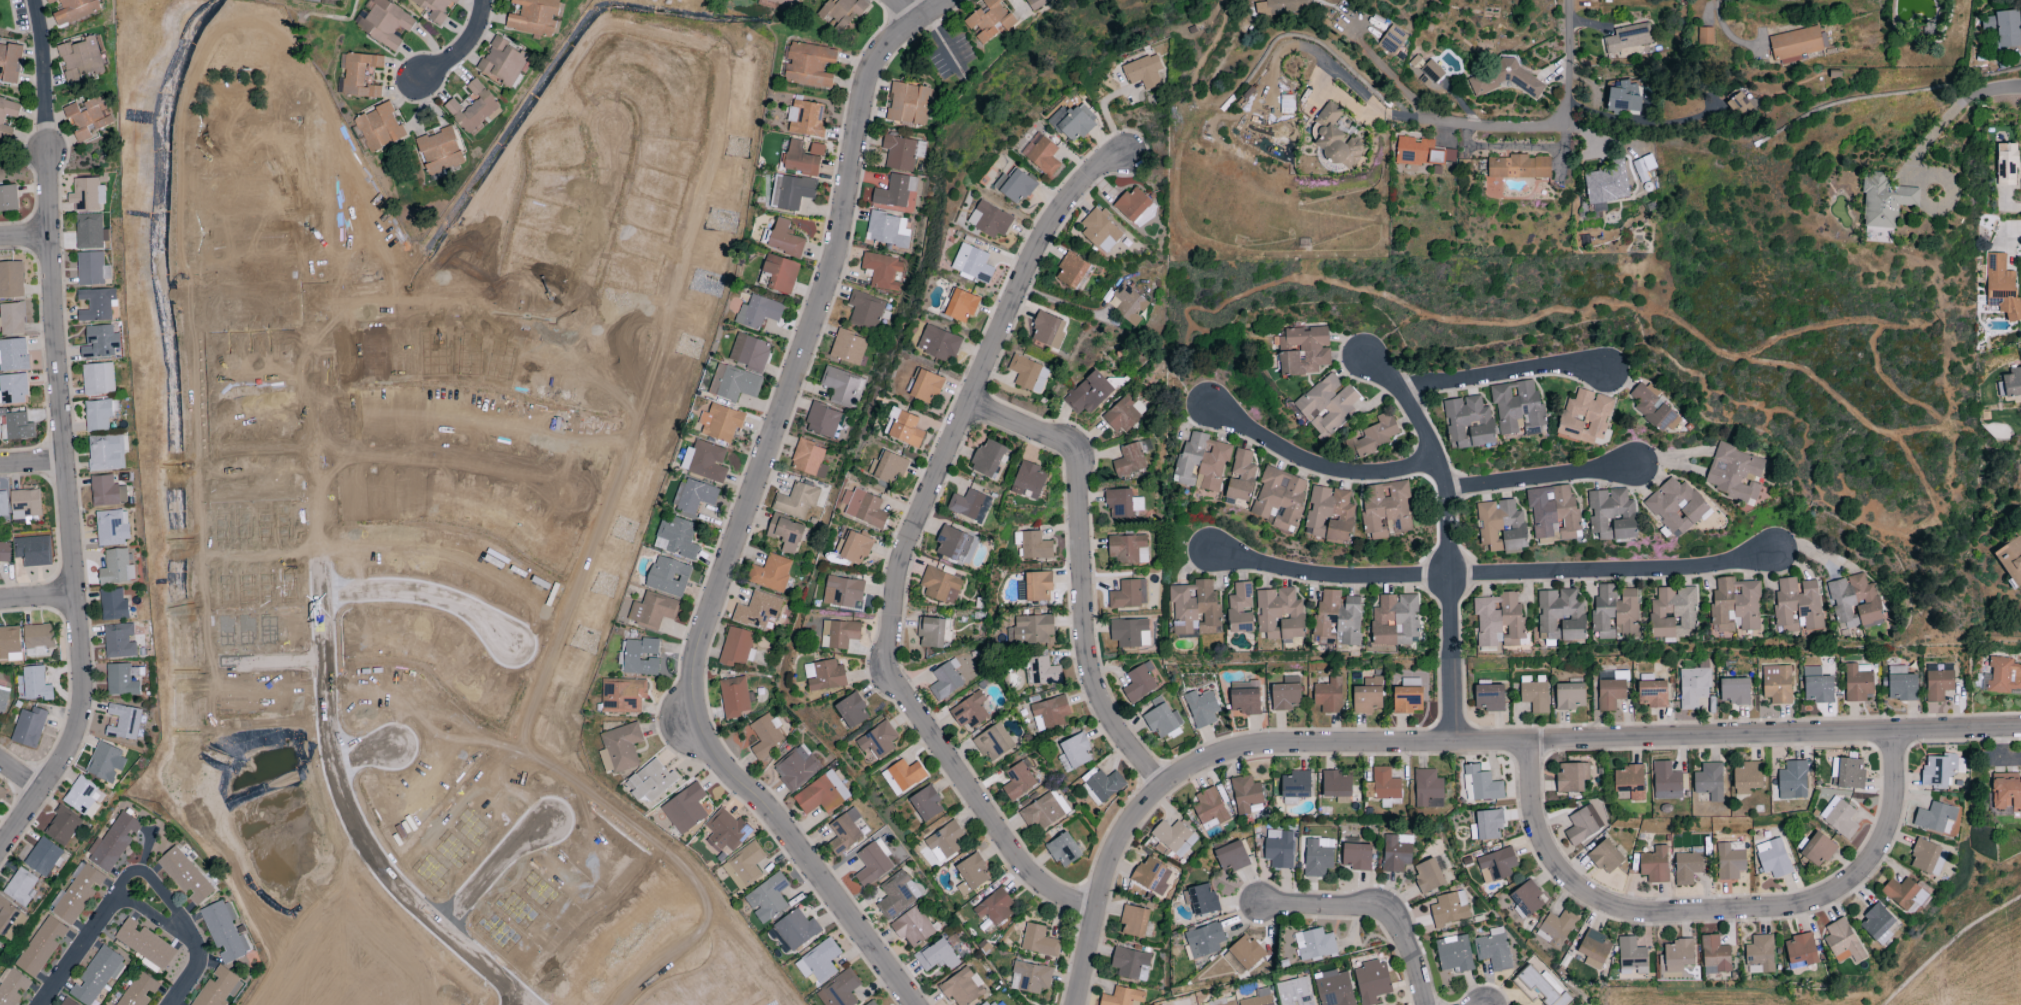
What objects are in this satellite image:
building: (336, 0)
building: (784, 2)
building: (1036, 3)
building: (1282, 7)
building: (434, 8)
building: (75, 10)
road: (910, 11)
building: (842, 13)
building: (534, 17)
building: (990, 20)
building: (383, 22)
road: (1723, 29)
building: (2003, 29)
building: (1705, 36)
building: (1627, 39)
building: (1391, 41)
building: (1795, 45)
road: (463, 48)
road: (945, 49)
building: (80, 59)
building: (503, 61)
building: (10, 62)
road: (1565, 62)
building: (808, 65)
road: (43, 66)
road: (1384, 69)
building: (1424, 71)
building: (1143, 72)
building: (360, 76)
building: (1505, 79)
road: (1987, 94)
building: (1624, 97)
building: (907, 104)
building: (1739, 106)
building: (474, 108)
road: (1398, 117)
building: (88, 118)
building: (805, 119)
building: (1, 122)
building: (1072, 122)
road: (1641, 122)
building: (379, 128)
building: (1335, 139)
road: (1931, 139)
building: (816, 149)
building: (439, 150)
building: (901, 153)
building: (1423, 154)
building: (1042, 155)
building: (800, 160)
building: (1519, 167)
building: (1606, 184)
building: (1015, 185)
building: (790, 192)
building: (86, 195)
building: (8, 199)
building: (1884, 202)
building: (1133, 204)
building: (989, 220)
building: (887, 230)
building: (1100, 231)
building: (90, 232)
road: (25, 239)
building: (784, 239)
building: (972, 264)
building: (92, 269)
building: (1071, 270)
building: (882, 271)
building: (780, 273)
building: (11, 280)
building: (2001, 286)
building: (96, 304)
building: (1129, 304)
building: (961, 305)
road: (1068, 306)
building: (865, 310)
building: (758, 312)
road: (543, 317)
building: (12, 319)
building: (1048, 330)
road: (265, 337)
building: (100, 342)
building: (938, 343)
building: (847, 348)
building: (1303, 351)
building: (749, 352)
building: (13, 355)
building: (1028, 374)
road: (1501, 374)
building: (97, 379)
building: (733, 384)
building: (2010, 384)
building: (926, 386)
building: (841, 387)
building: (1088, 394)
building: (1326, 404)
building: (1517, 407)
building: (1652, 408)
building: (1124, 413)
building: (98, 414)
building: (1584, 417)
building: (821, 420)
building: (720, 423)
building: (1468, 423)
building: (18, 427)
building: (906, 430)
building: (1374, 436)
road: (270, 451)
building: (106, 452)
building: (988, 458)
building: (1131, 458)
building: (809, 460)
building: (704, 461)
road: (34, 463)
road: (1321, 465)
road: (448, 466)
building: (887, 467)
building: (1734, 474)
building: (1241, 477)
road: (1541, 478)
building: (1028, 481)
building: (106, 490)
building: (693, 496)
building: (1280, 499)
building: (796, 501)
building: (24, 503)
building: (1119, 503)
building: (3, 504)
building: (966, 504)
road: (71, 507)
building: (1675, 507)
building: (863, 508)
building: (1385, 510)
building: (1552, 513)
building: (1329, 515)
building: (1611, 515)
road: (747, 516)
building: (111, 527)
building: (1501, 527)
building: (785, 533)
road: (1451, 536)
road: (909, 543)
building: (955, 545)
building: (1033, 546)
building: (854, 548)
building: (1128, 549)
building: (32, 550)
building: (4, 552)
road: (275, 556)
building: (2011, 560)
building: (115, 567)
building: (770, 573)
road: (1085, 573)
road: (1496, 574)
building: (668, 576)
building: (940, 586)
building: (1035, 587)
building: (842, 592)
building: (1128, 595)
road: (39, 599)
building: (1853, 600)
building: (112, 604)
road: (425, 605)
building: (1735, 606)
building: (1797, 606)
building: (1195, 608)
building: (1240, 609)
building: (652, 611)
building: (757, 611)
building: (1672, 611)
building: (1615, 612)
building: (1279, 614)
building: (1560, 615)
road: (327, 616)
building: (1338, 617)
building: (1395, 620)
building: (1499, 621)
building: (1032, 630)
building: (930, 633)
building: (1130, 633)
building: (839, 634)
building: (38, 635)
building: (118, 640)
building: (10, 644)
road: (279, 654)
building: (638, 657)
building: (1043, 672)
building: (824, 676)
building: (2004, 676)
building: (122, 679)
building: (945, 680)
building: (1139, 682)
building: (35, 683)
building: (1776, 684)
building: (1856, 684)
building: (1937, 685)
building: (1693, 686)
building: (1817, 686)
building: (1900, 687)
building: (1611, 691)
building: (1734, 691)
building: (1652, 694)
building: (1534, 695)
building: (622, 696)
building: (1328, 696)
building: (1367, 696)
building: (1569, 696)
building: (734, 697)
building: (1285, 697)
building: (1245, 698)
building: (1489, 698)
building: (3, 699)
building: (1407, 700)
building: (1201, 708)
building: (852, 711)
building: (970, 712)
building: (1049, 713)
building: (1161, 719)
building: (123, 722)
building: (28, 727)
building: (766, 736)
building: (877, 741)
building: (993, 742)
road: (1467, 743)
building: (619, 748)
road: (367, 753)
building: (1074, 753)
building: (105, 763)
building: (796, 769)
building: (1938, 771)
building: (1847, 773)
building: (906, 775)
road: (22, 777)
building: (1571, 777)
building: (1747, 778)
building: (1793, 780)
building: (650, 781)
building: (1018, 781)
building: (1709, 781)
building: (1666, 782)
building: (1628, 783)
building: (1296, 784)
building: (1482, 784)
building: (1335, 785)
building: (1103, 786)
building: (1427, 789)
building: (2, 792)
building: (821, 794)
building: (2006, 794)
building: (1246, 796)
building: (83, 798)
building: (926, 804)
building: (1210, 808)
building: (685, 809)
building: (1041, 809)
building: (1838, 817)
building: (1935, 818)
building: (1487, 825)
building: (1582, 825)
building: (62, 826)
building: (725, 831)
building: (844, 832)
building: (1174, 838)
building: (945, 840)
building: (113, 842)
building: (1279, 849)
building: (1816, 849)
building: (1062, 850)
building: (1396, 853)
building: (1232, 856)
building: (1357, 856)
building: (43, 857)
building: (1318, 857)
building: (1605, 857)
building: (1927, 857)
building: (1773, 858)
building: (1729, 860)
building: (872, 863)
building: (1495, 865)
building: (1654, 865)
building: (744, 866)
building: (1686, 868)
building: (971, 874)
road: (477, 875)
building: (185, 876)
building: (1151, 876)
building: (1427, 876)
building: (21, 887)
road: (135, 892)
building: (76, 894)
building: (896, 895)
building: (1904, 895)
building: (767, 898)
building: (1526, 899)
building: (1201, 900)
building: (993, 908)
building: (1449, 909)
road: (1718, 909)
road: (1374, 911)
building: (7, 918)
building: (1133, 921)
building: (1876, 922)
road: (1953, 923)
building: (912, 927)
building: (1555, 928)
building: (794, 931)
building: (224, 932)
building: (1204, 940)
building: (1038, 941)
building: (1842, 941)
building: (145, 944)
building: (1314, 945)
building: (41, 946)
building: (1493, 949)
building: (1594, 950)
building: (1801, 950)
building: (1453, 954)
building: (1631, 955)
building: (1759, 955)
building: (936, 956)
building: (1676, 956)
building: (1714, 956)
building: (818, 962)
building: (1129, 962)
road: (651, 971)
building: (96, 976)
building: (1030, 978)
building: (1372, 982)
building: (12, 987)
building: (1541, 987)
building: (217, 988)
building: (962, 988)
building: (1333, 988)
building: (138, 990)
building: (839, 990)
building: (1294, 992)
building: (1122, 997)
road: (516, 998)
building: (1259, 998)
building: (67, 1002)
building: (1222, 1002)
building: (871, 1003)
building: (989, 1003)

